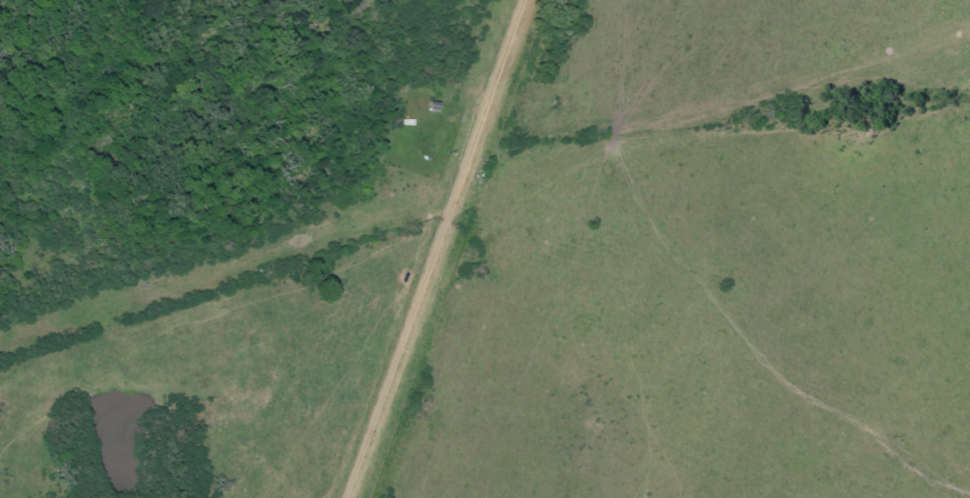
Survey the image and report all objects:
road: (427, 247)
road: (342, 249)

